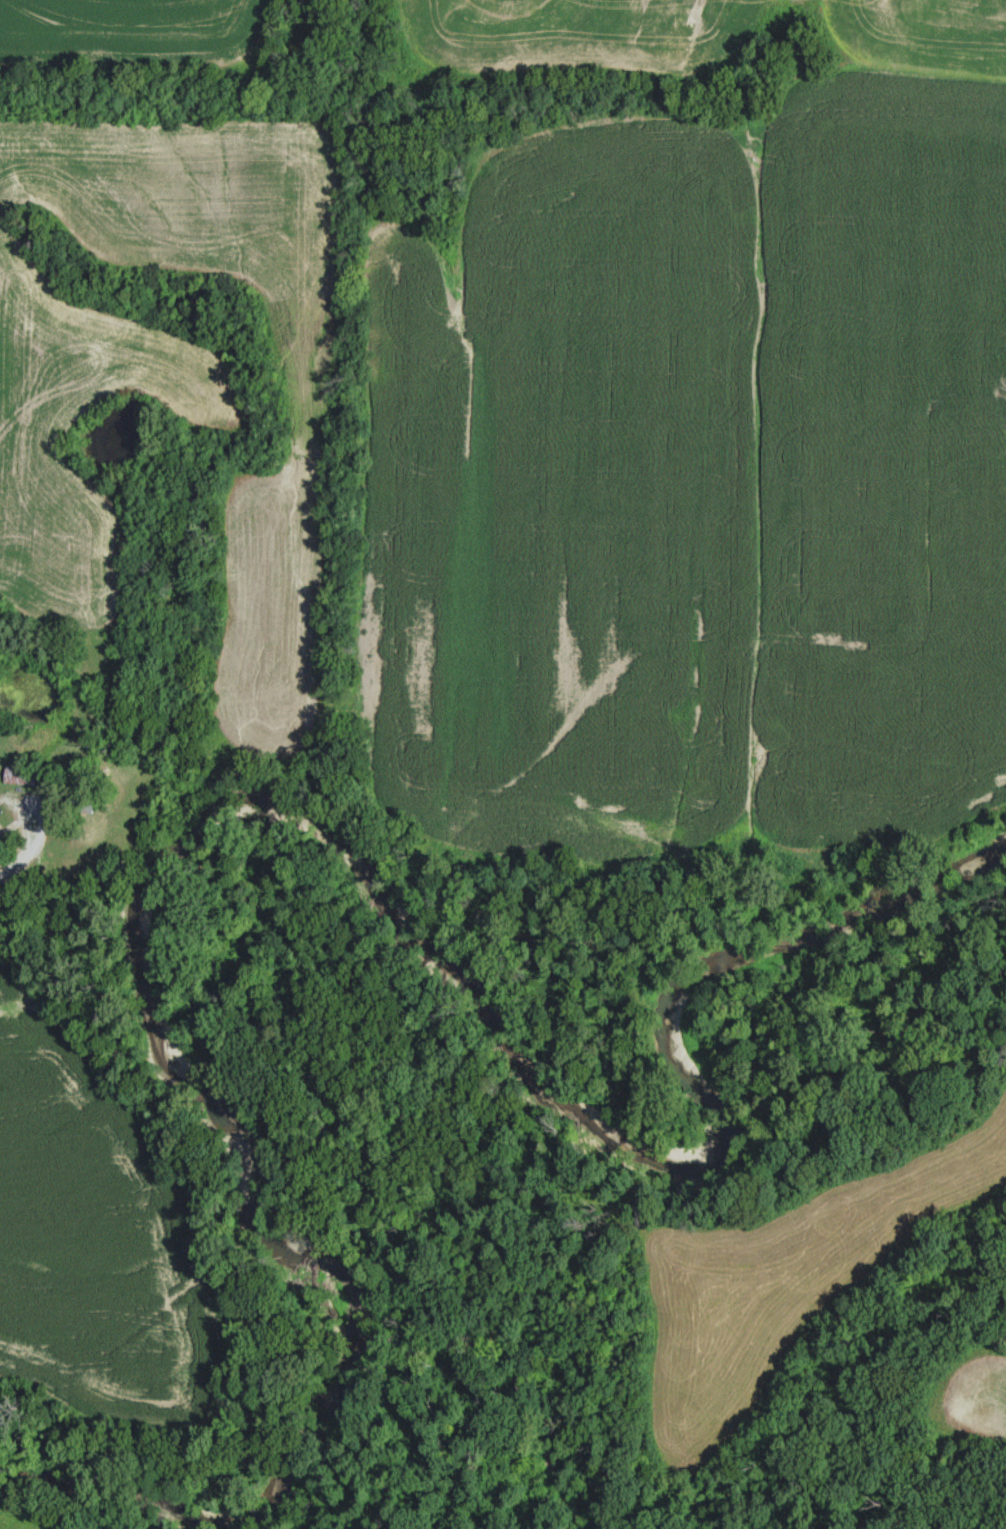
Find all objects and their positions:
building: (21, 776)
building: (85, 801)
road: (28, 852)

